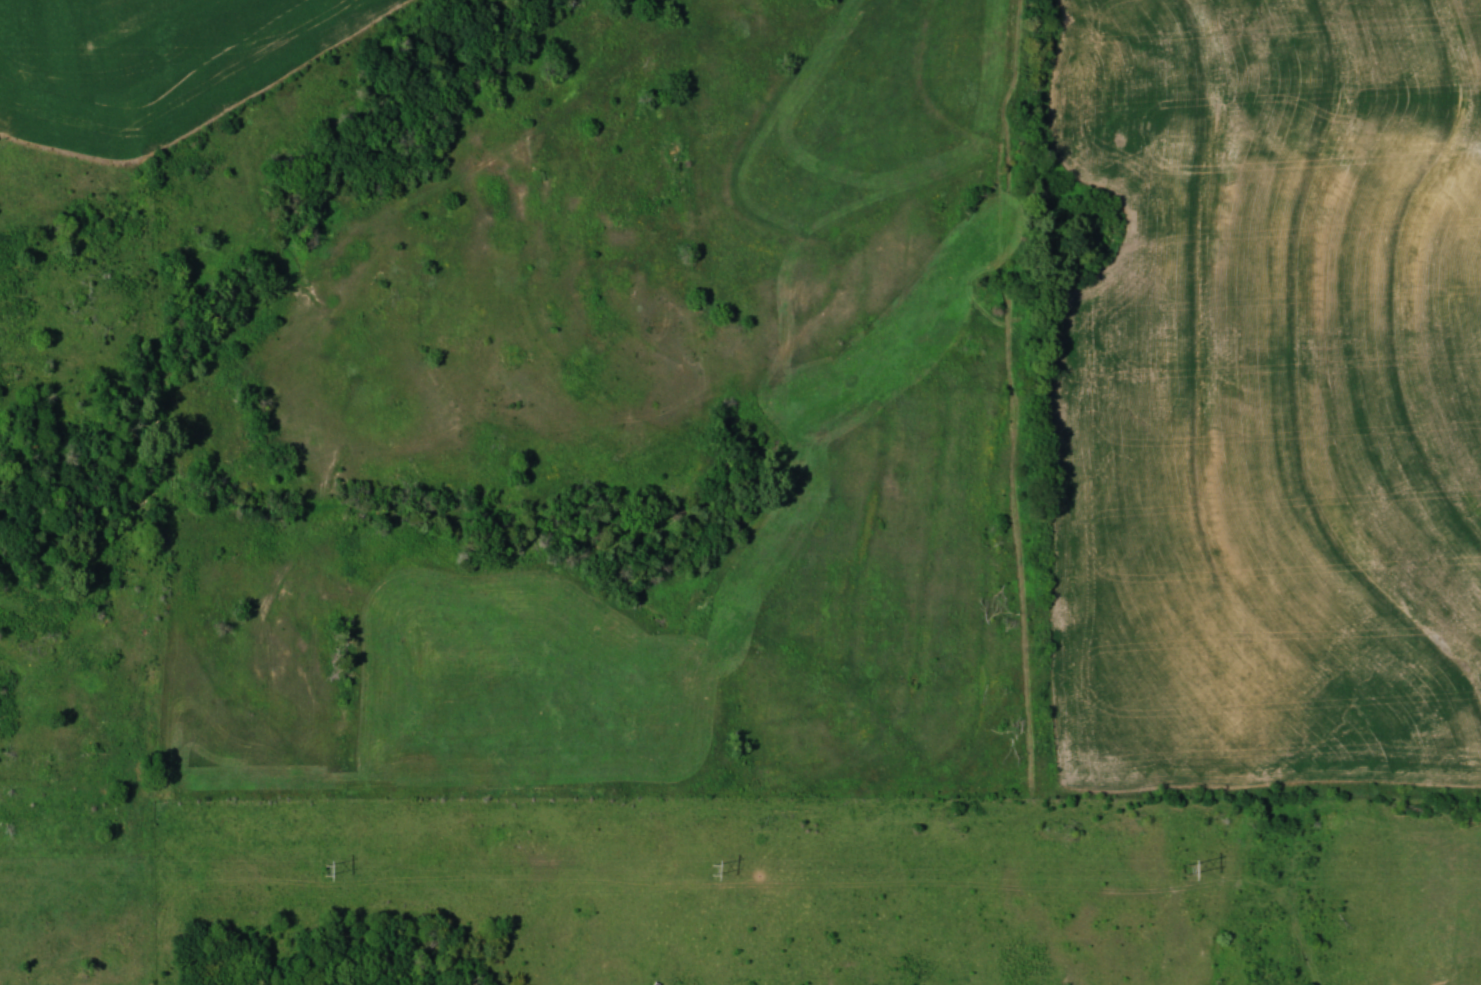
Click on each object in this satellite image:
power tower: (323, 869)
power tower: (711, 869)
power tower: (1178, 869)

